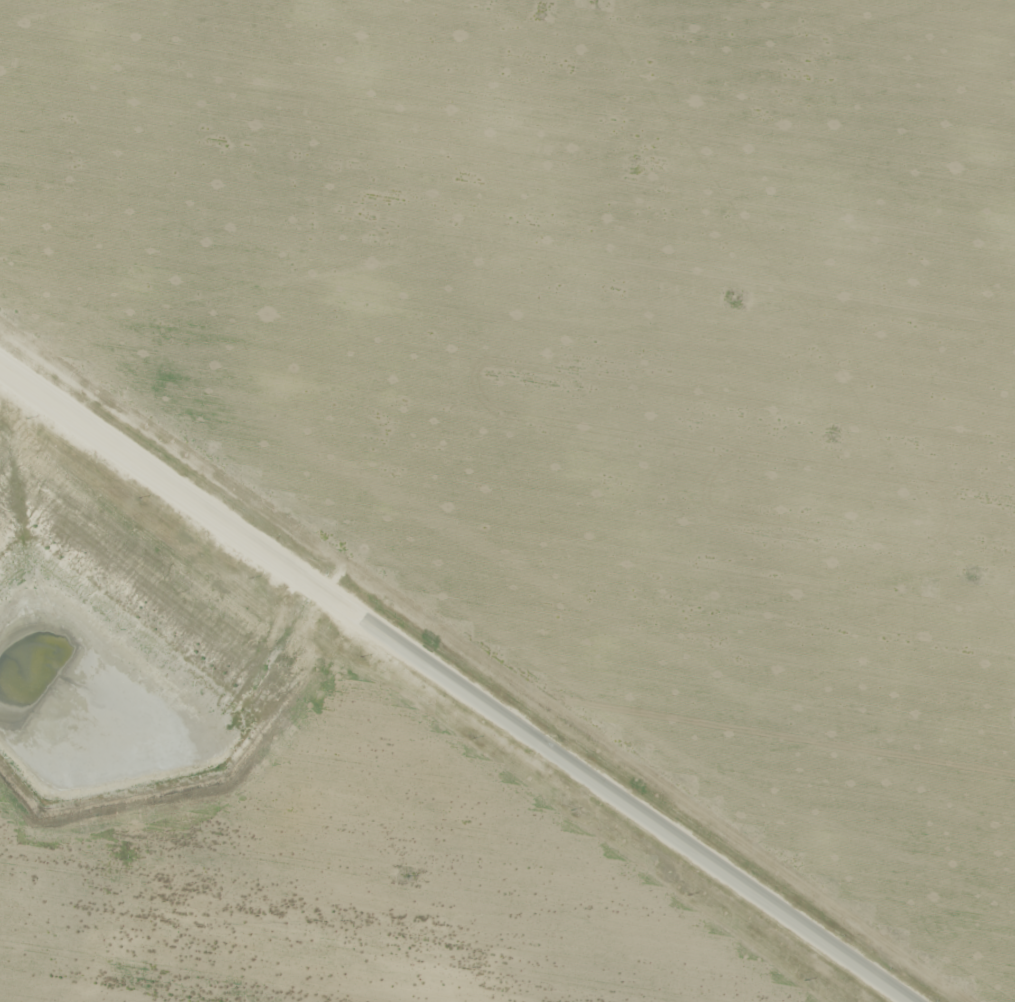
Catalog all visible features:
landfill: (21, 140)
road: (456, 683)

